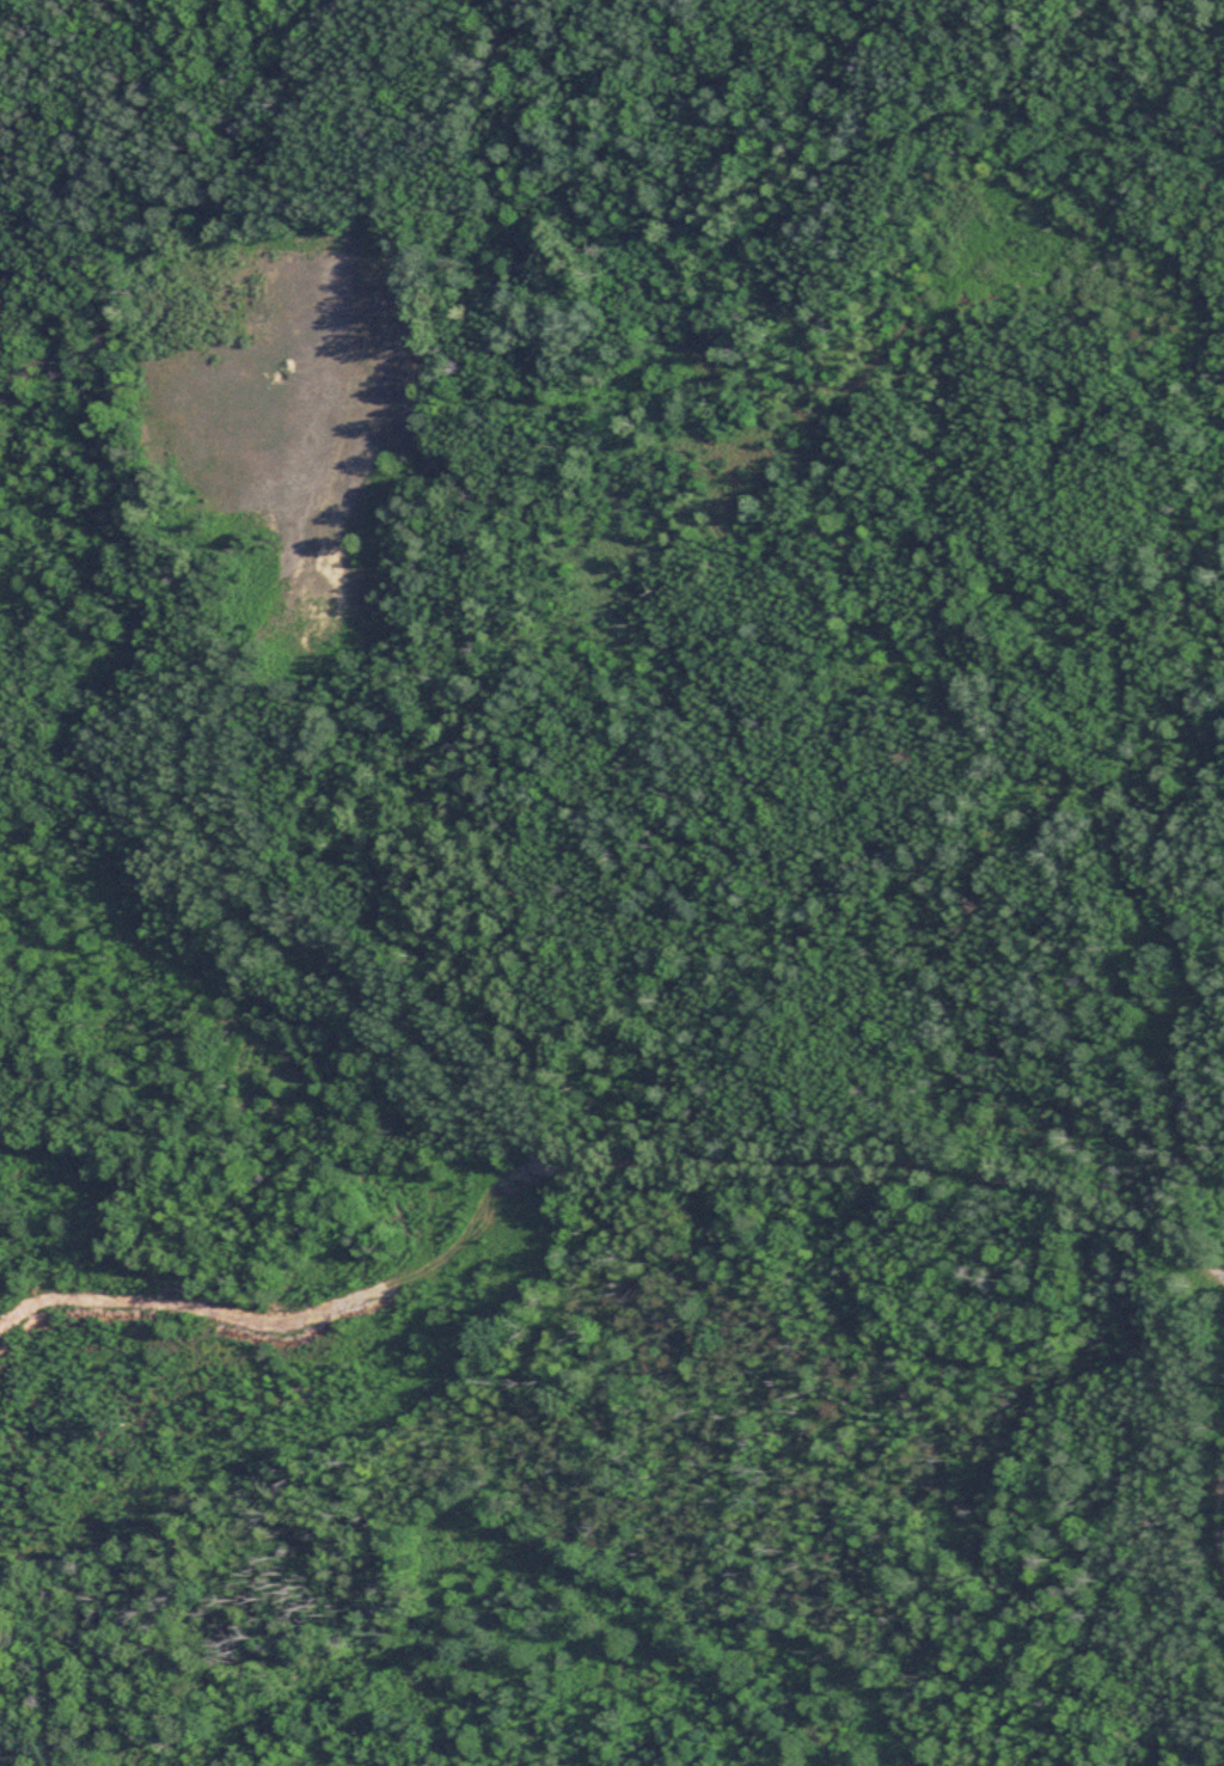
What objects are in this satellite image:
road: (590, 1159)

